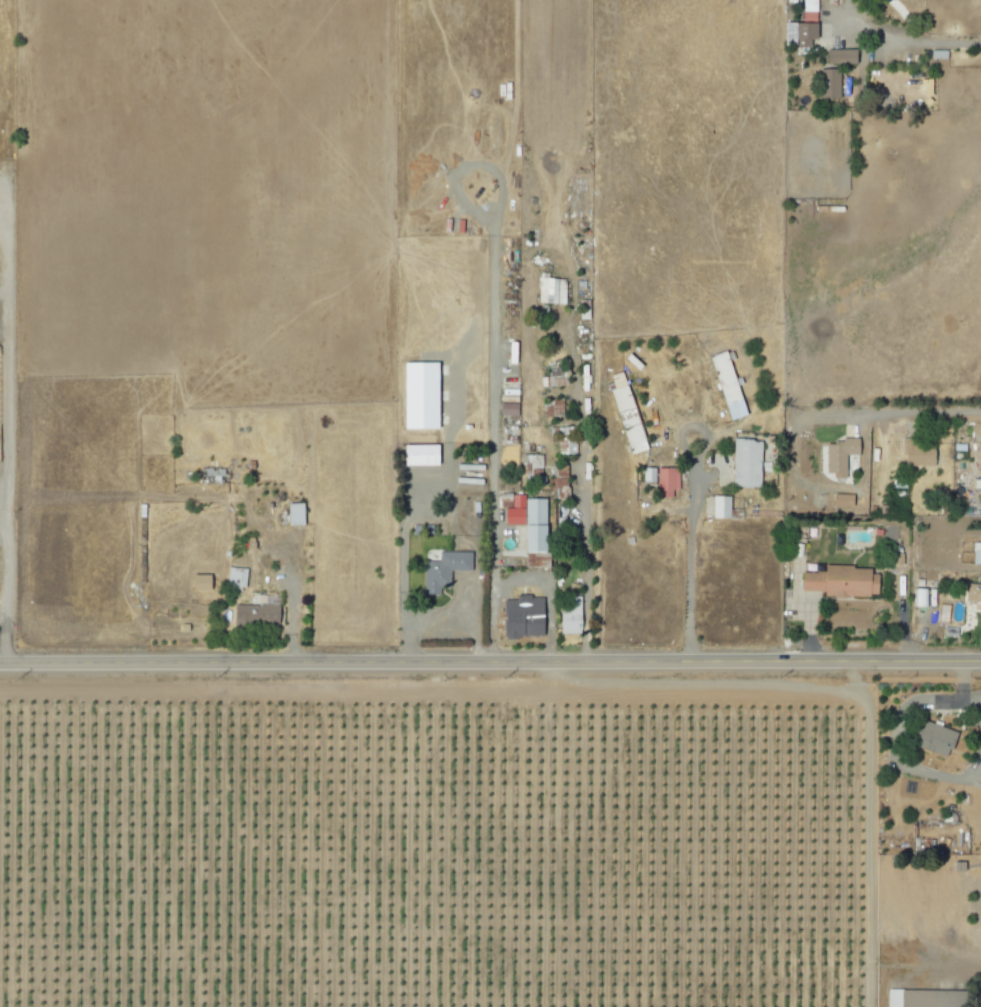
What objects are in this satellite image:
building: (798, 31)
road: (928, 42)
building: (837, 52)
building: (827, 84)
building: (549, 290)
building: (725, 385)
building: (549, 408)
building: (506, 409)
road: (893, 410)
building: (624, 413)
road: (5, 446)
building: (566, 447)
building: (418, 454)
building: (837, 455)
building: (916, 455)
building: (744, 463)
building: (647, 475)
building: (978, 479)
building: (557, 481)
building: (665, 482)
road: (494, 490)
building: (840, 500)
building: (718, 507)
building: (292, 514)
road: (2, 532)
building: (532, 532)
road: (402, 534)
road: (585, 552)
building: (443, 567)
road: (688, 575)
building: (233, 577)
building: (197, 582)
building: (838, 582)
road: (546, 592)
building: (973, 595)
building: (918, 597)
road: (293, 611)
building: (253, 614)
building: (526, 615)
building: (568, 615)
road: (427, 616)
road: (490, 662)
road: (965, 692)
building: (931, 738)
road: (980, 765)
building: (915, 998)

